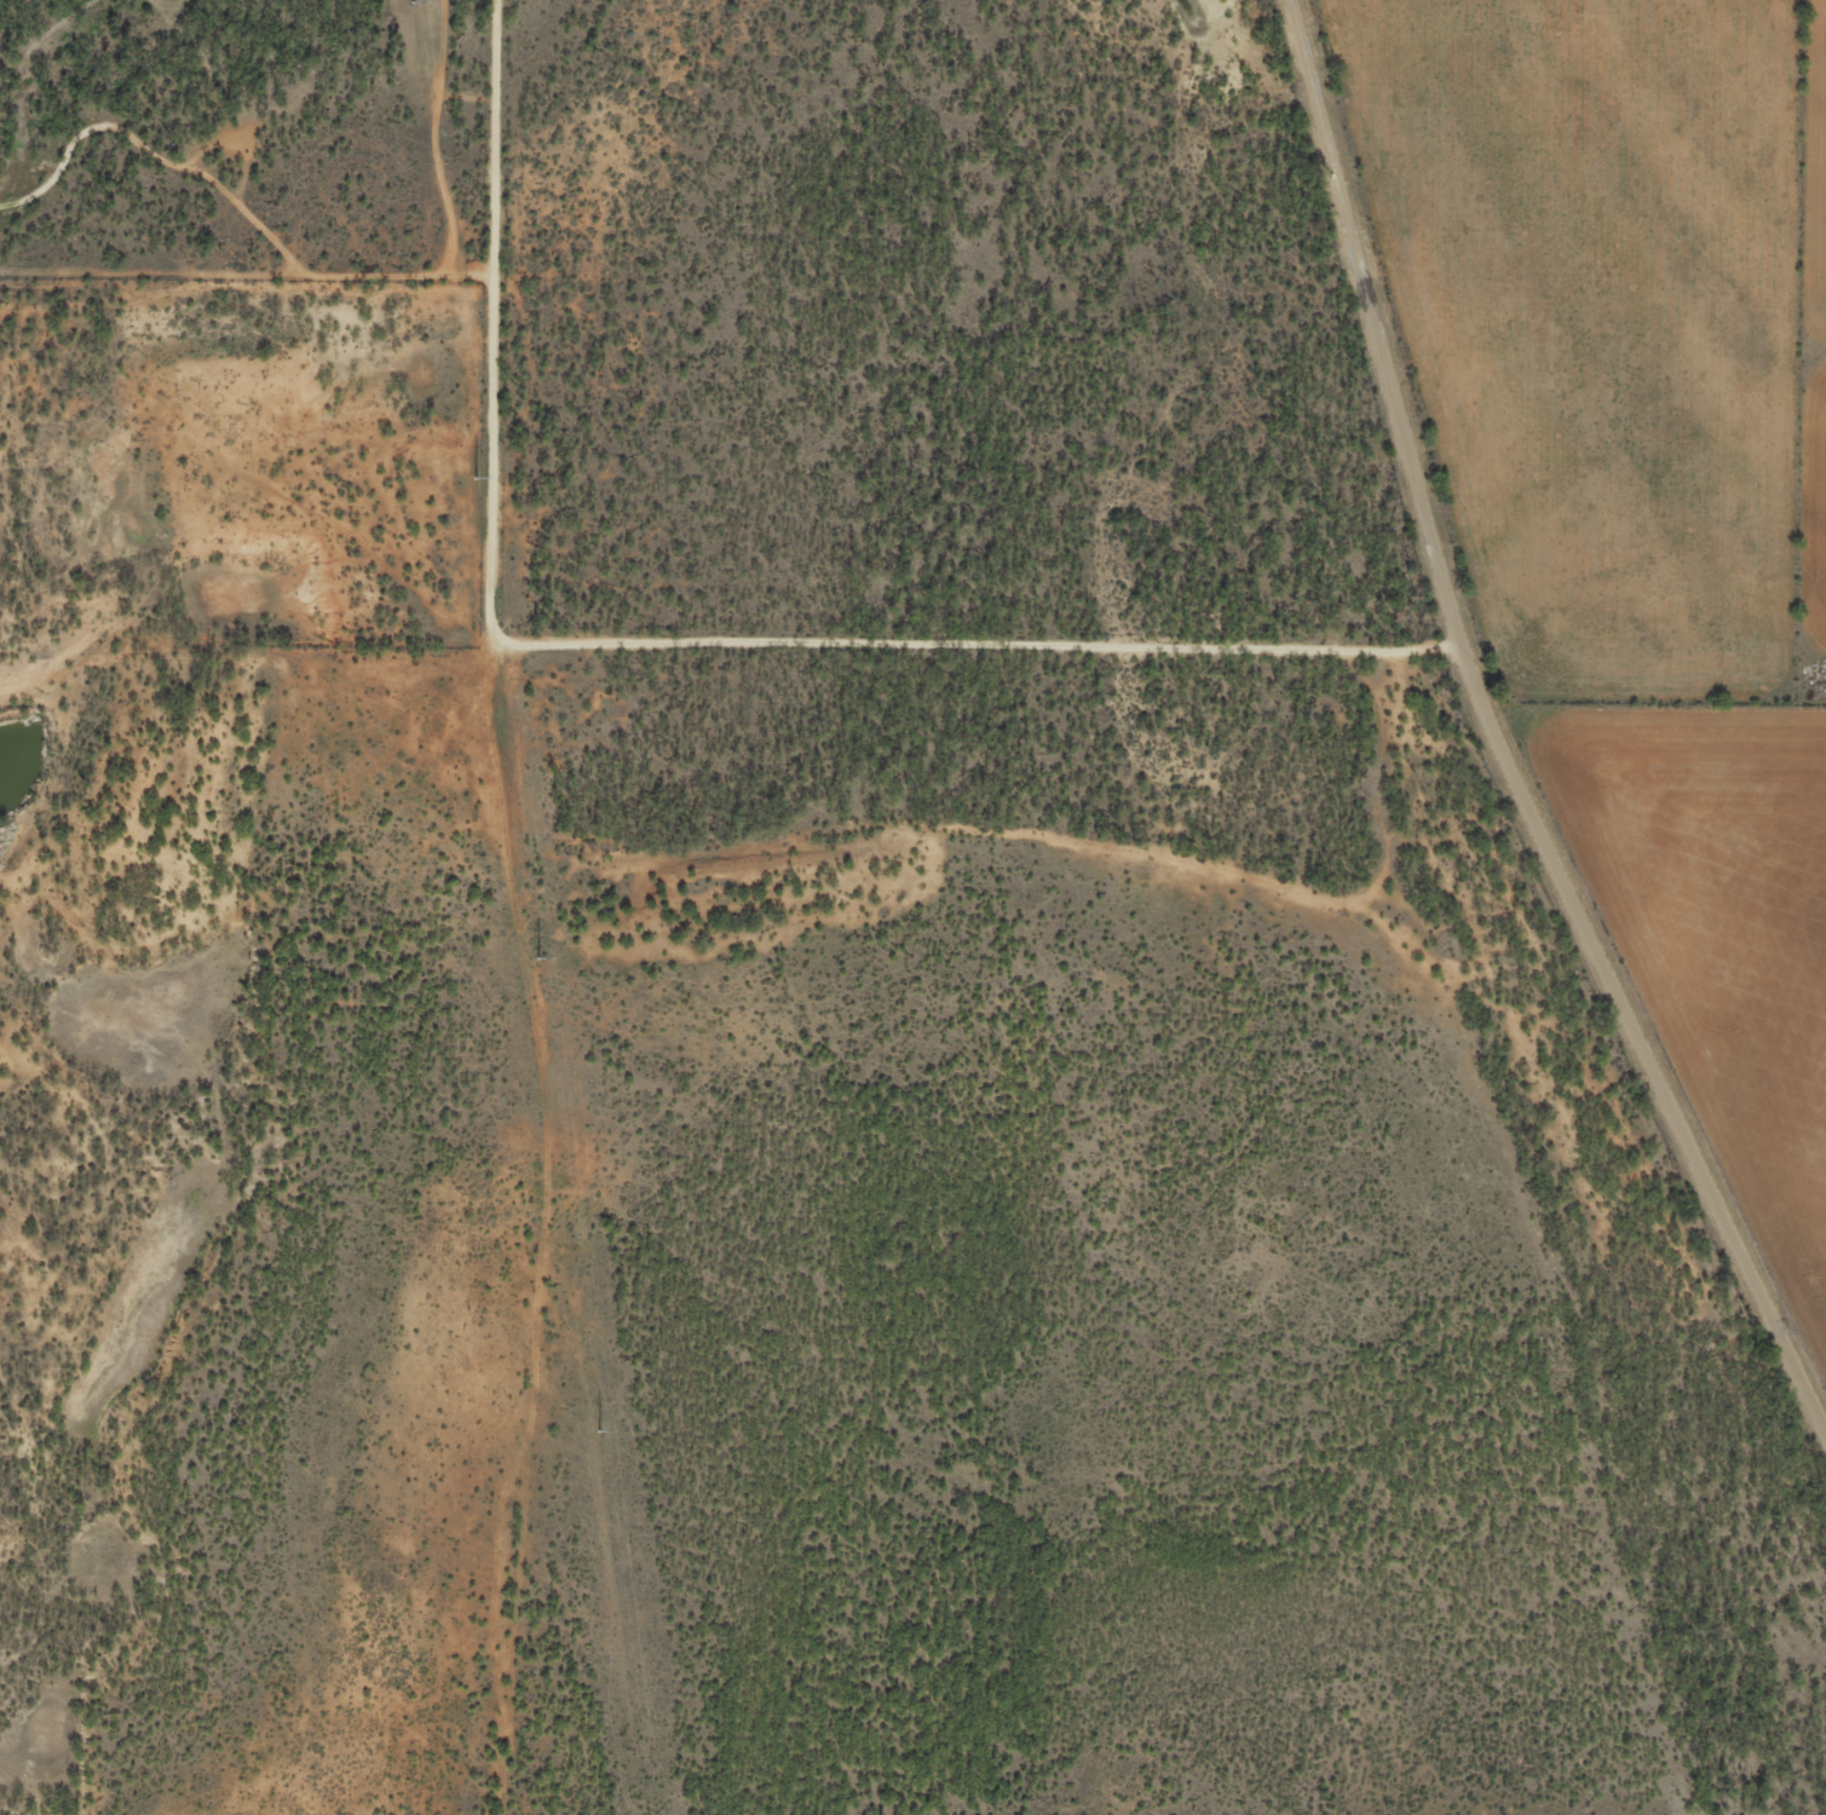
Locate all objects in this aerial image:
power tower: (414, 0)
power tower: (477, 476)
road: (957, 634)
road: (1485, 766)
road: (480, 906)
power tower: (538, 958)
power tower: (600, 1430)

